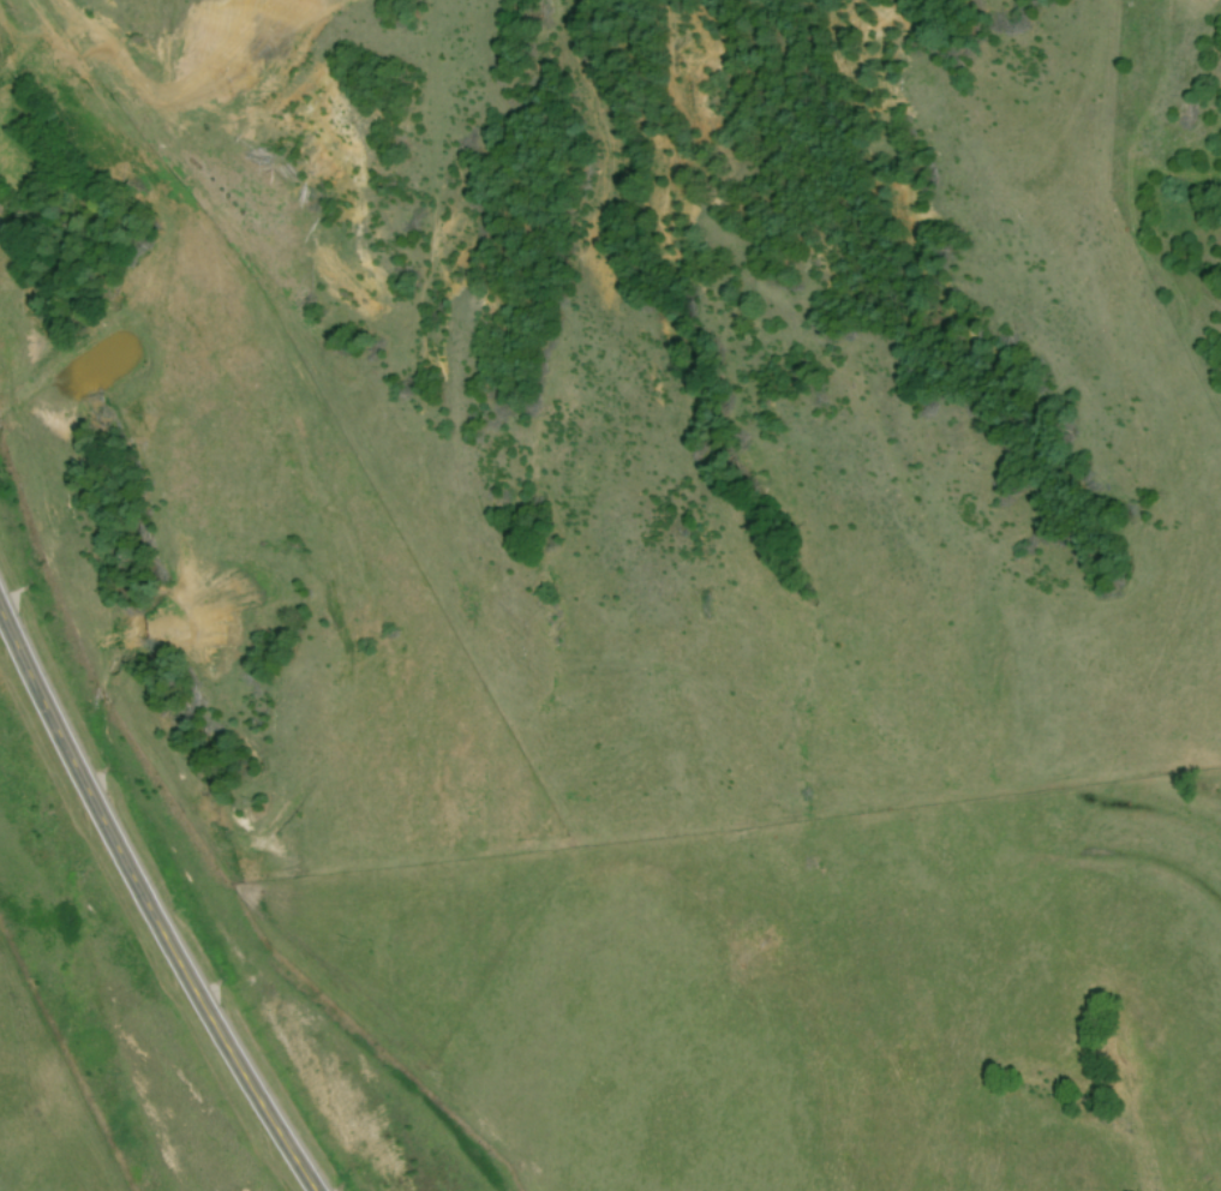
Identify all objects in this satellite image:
road: (145, 905)

